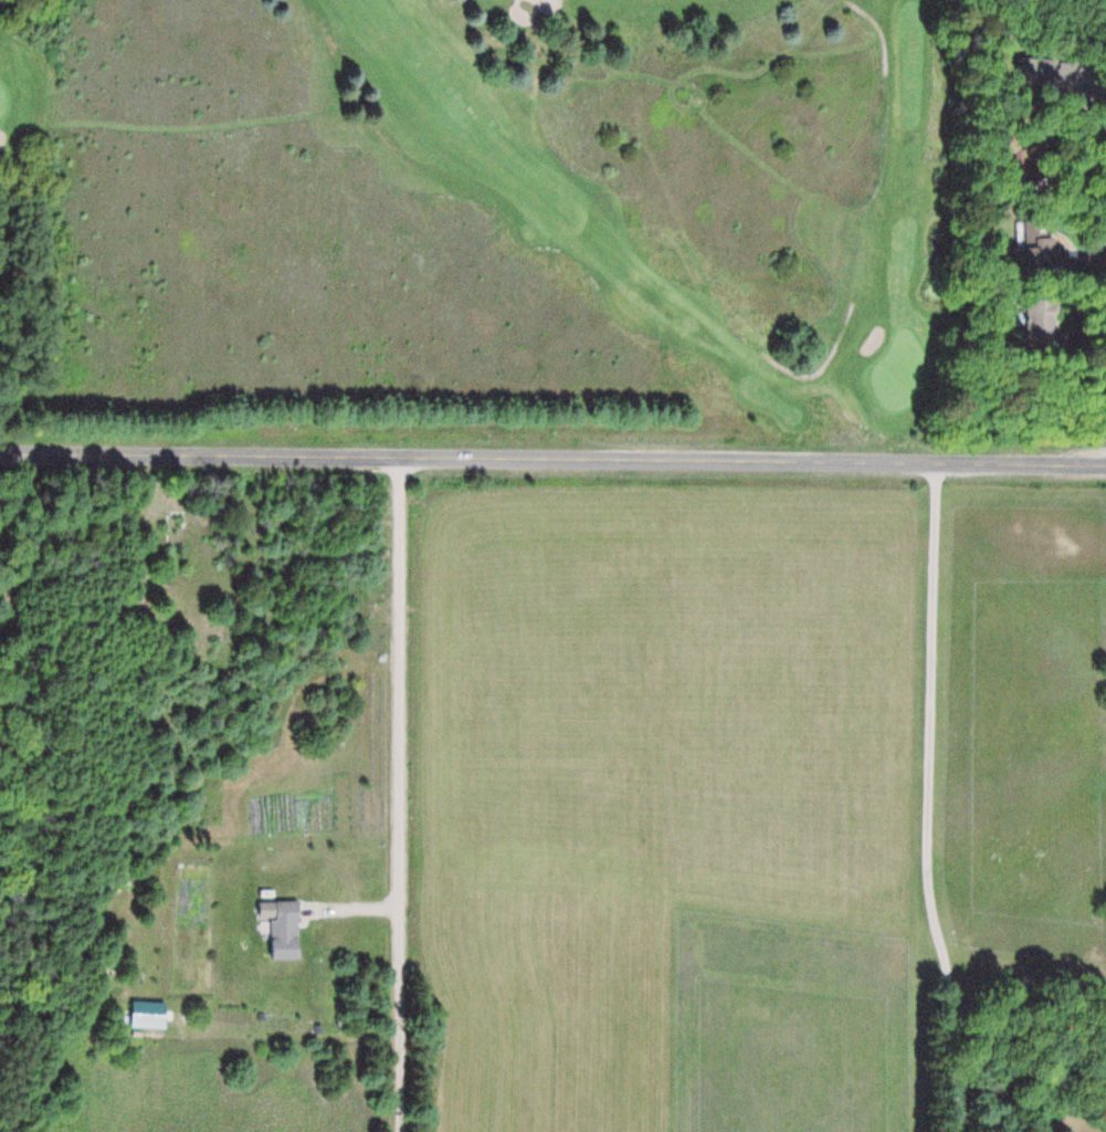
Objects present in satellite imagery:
road: (879, 29)
park: (470, 219)
building: (1045, 247)
building: (1043, 321)
road: (819, 366)
road: (552, 459)
road: (396, 795)
road: (927, 798)
building: (286, 929)
building: (150, 1015)

